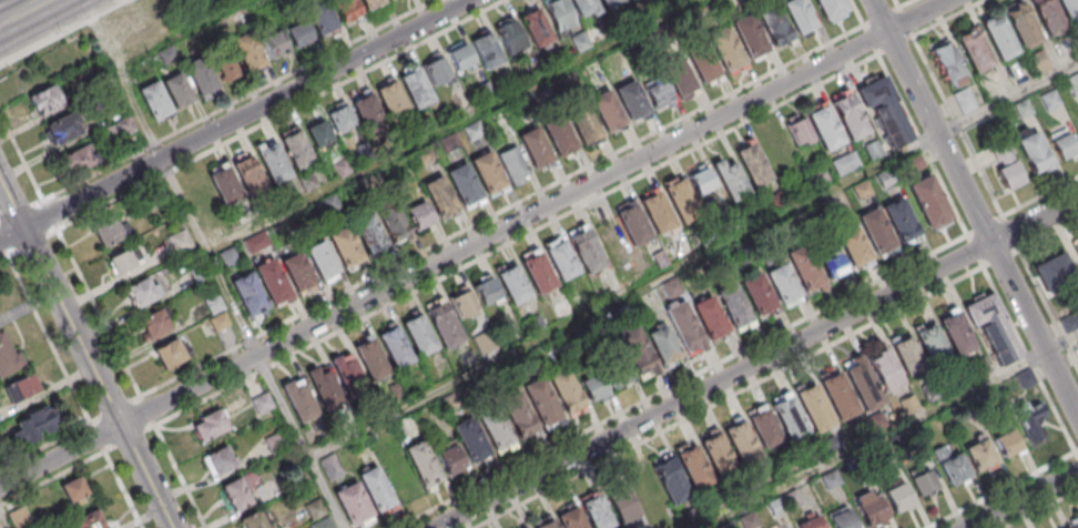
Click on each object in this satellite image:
building: (607, 2)
building: (369, 3)
road: (896, 3)
road: (904, 3)
road: (18, 4)
building: (830, 7)
building: (345, 8)
building: (584, 8)
building: (1070, 9)
road: (855, 12)
building: (318, 14)
building: (797, 14)
building: (1051, 16)
road: (24, 17)
building: (557, 17)
road: (947, 18)
building: (140, 22)
building: (773, 24)
building: (1025, 26)
building: (533, 27)
road: (61, 31)
road: (180, 33)
building: (297, 33)
building: (508, 37)
building: (750, 37)
building: (1000, 37)
building: (579, 41)
building: (274, 42)
building: (724, 48)
building: (974, 48)
building: (246, 50)
building: (485, 50)
building: (165, 55)
building: (458, 57)
building: (701, 61)
building: (224, 62)
building: (948, 62)
building: (1040, 63)
building: (436, 69)
building: (199, 75)
building: (678, 75)
building: (1074, 84)
building: (176, 88)
building: (414, 88)
road: (896, 92)
building: (658, 93)
road: (235, 98)
building: (42, 99)
building: (152, 100)
building: (391, 100)
building: (630, 100)
building: (1052, 101)
building: (966, 102)
building: (606, 110)
building: (884, 110)
building: (1025, 110)
road: (278, 113)
building: (368, 115)
building: (850, 115)
building: (339, 119)
road: (235, 120)
road: (929, 122)
building: (583, 124)
building: (823, 125)
road: (454, 126)
road: (957, 126)
building: (62, 128)
building: (799, 129)
building: (120, 130)
building: (472, 132)
building: (317, 135)
building: (559, 135)
building: (1064, 142)
building: (535, 146)
building: (296, 150)
building: (1034, 150)
road: (21, 155)
building: (77, 158)
building: (272, 162)
building: (752, 162)
building: (512, 164)
building: (1007, 166)
building: (488, 174)
building: (247, 175)
road: (169, 176)
building: (700, 179)
building: (730, 179)
building: (306, 180)
building: (224, 185)
building: (464, 185)
building: (284, 193)
building: (439, 196)
road: (1041, 199)
building: (680, 200)
building: (929, 202)
road: (20, 209)
road: (500, 209)
road: (49, 212)
road: (535, 212)
building: (658, 213)
building: (418, 214)
building: (901, 221)
building: (394, 222)
road: (1036, 222)
building: (633, 224)
road: (986, 226)
building: (108, 230)
building: (876, 230)
building: (368, 233)
road: (1011, 234)
road: (1049, 236)
road: (515, 240)
road: (31, 242)
building: (176, 243)
building: (853, 244)
building: (344, 245)
road: (2, 247)
building: (587, 250)
building: (1077, 250)
road: (976, 253)
road: (2, 256)
building: (561, 260)
road: (693, 260)
road: (1003, 260)
building: (121, 261)
building: (322, 261)
building: (833, 264)
building: (804, 267)
building: (296, 272)
building: (1055, 272)
building: (538, 273)
building: (272, 281)
building: (513, 284)
building: (783, 284)
building: (486, 290)
building: (756, 292)
building: (141, 293)
building: (248, 294)
building: (462, 301)
road: (59, 305)
building: (733, 306)
road: (1049, 308)
road: (98, 312)
building: (216, 312)
building: (709, 317)
building: (443, 322)
building: (155, 324)
building: (684, 326)
building: (993, 327)
building: (956, 331)
road: (1036, 331)
building: (418, 334)
road: (48, 337)
building: (663, 344)
building: (933, 344)
building: (1077, 344)
building: (394, 347)
building: (638, 353)
building: (170, 355)
building: (907, 355)
building: (369, 357)
building: (9, 358)
road: (1028, 359)
building: (979, 367)
building: (886, 370)
building: (618, 373)
building: (347, 375)
building: (861, 382)
building: (592, 384)
road: (714, 385)
building: (324, 387)
building: (20, 389)
building: (566, 390)
building: (838, 395)
road: (729, 398)
building: (298, 400)
building: (262, 403)
building: (542, 403)
road: (114, 407)
building: (813, 407)
road: (146, 409)
building: (517, 413)
building: (787, 416)
building: (1028, 418)
building: (32, 425)
building: (209, 425)
building: (762, 425)
building: (494, 427)
road: (889, 431)
road: (96, 435)
road: (129, 438)
building: (470, 438)
road: (299, 441)
building: (741, 441)
building: (274, 443)
building: (1006, 443)
road: (45, 444)
building: (718, 454)
road: (1076, 454)
road: (59, 455)
building: (980, 455)
building: (449, 457)
building: (218, 460)
building: (421, 461)
building: (693, 466)
building: (950, 466)
building: (330, 467)
road: (52, 476)
road: (145, 476)
road: (179, 477)
building: (670, 480)
building: (924, 483)
road: (123, 489)
building: (73, 490)
building: (376, 490)
building: (235, 494)
building: (894, 498)
road: (1021, 499)
building: (621, 504)
building: (353, 505)
building: (869, 507)
building: (314, 508)
road: (1039, 508)
building: (596, 510)
building: (570, 518)
building: (841, 519)
building: (89, 520)
building: (252, 520)
road: (2, 521)
building: (810, 522)
building: (1075, 522)
building: (322, 524)
building: (546, 524)
building: (522, 527)

